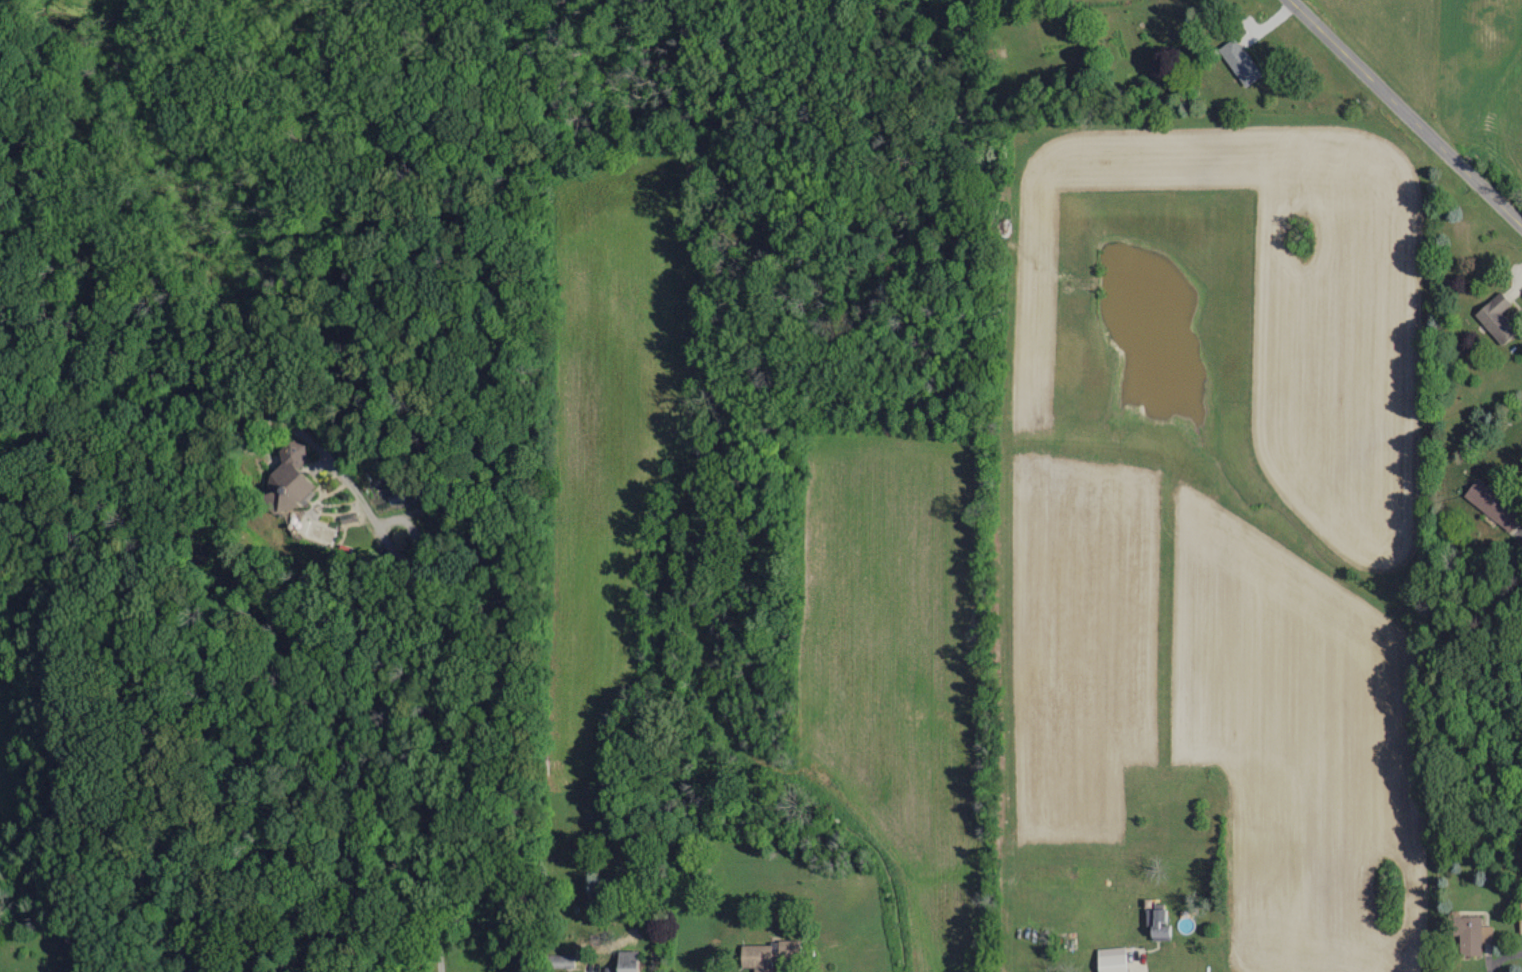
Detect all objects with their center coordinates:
building: (1239, 62)
road: (1407, 111)
building: (1496, 318)
building: (298, 487)
building: (1493, 503)
road: (450, 693)
building: (1520, 917)
building: (1158, 920)
building: (1470, 936)
building: (765, 954)
building: (1109, 960)
building: (561, 961)
building: (624, 961)
road: (1508, 963)

